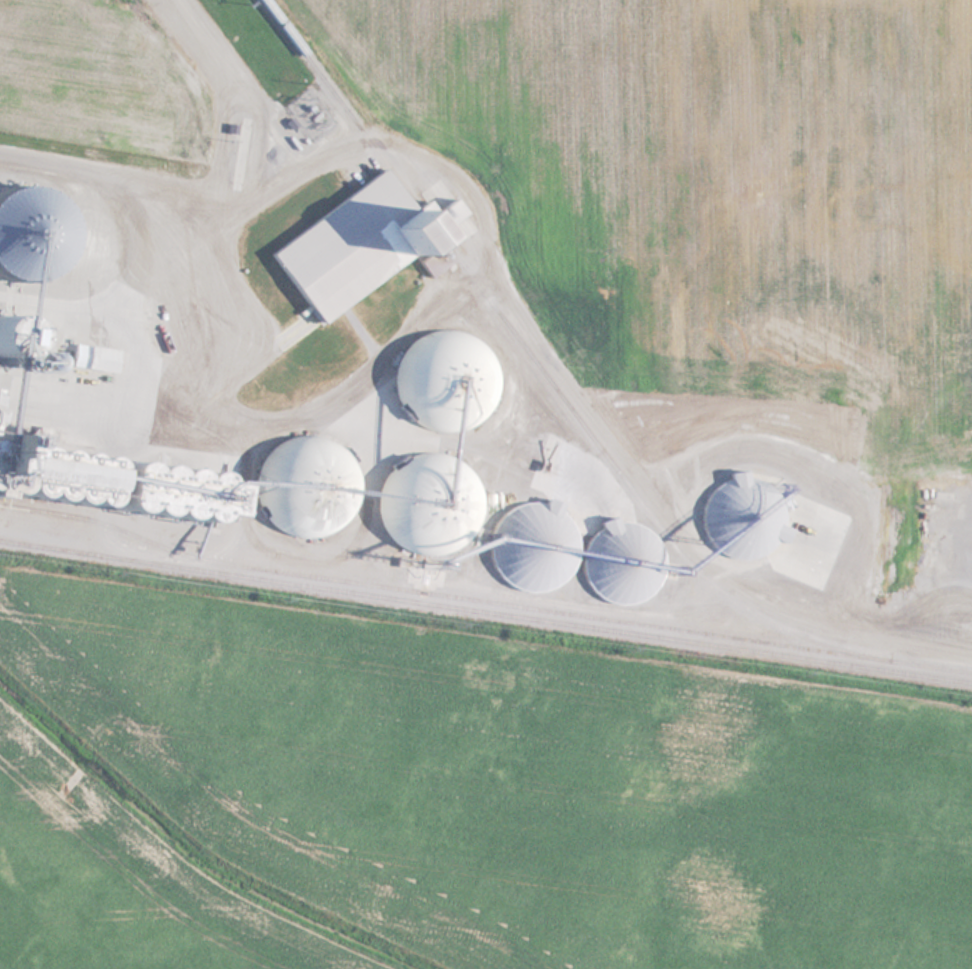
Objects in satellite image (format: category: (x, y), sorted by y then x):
building: (362, 244)
building: (96, 358)
building: (446, 383)
building: (304, 487)
building: (942, 496)
building: (430, 504)
building: (531, 545)
building: (620, 562)
railway: (482, 602)
railway: (486, 611)

